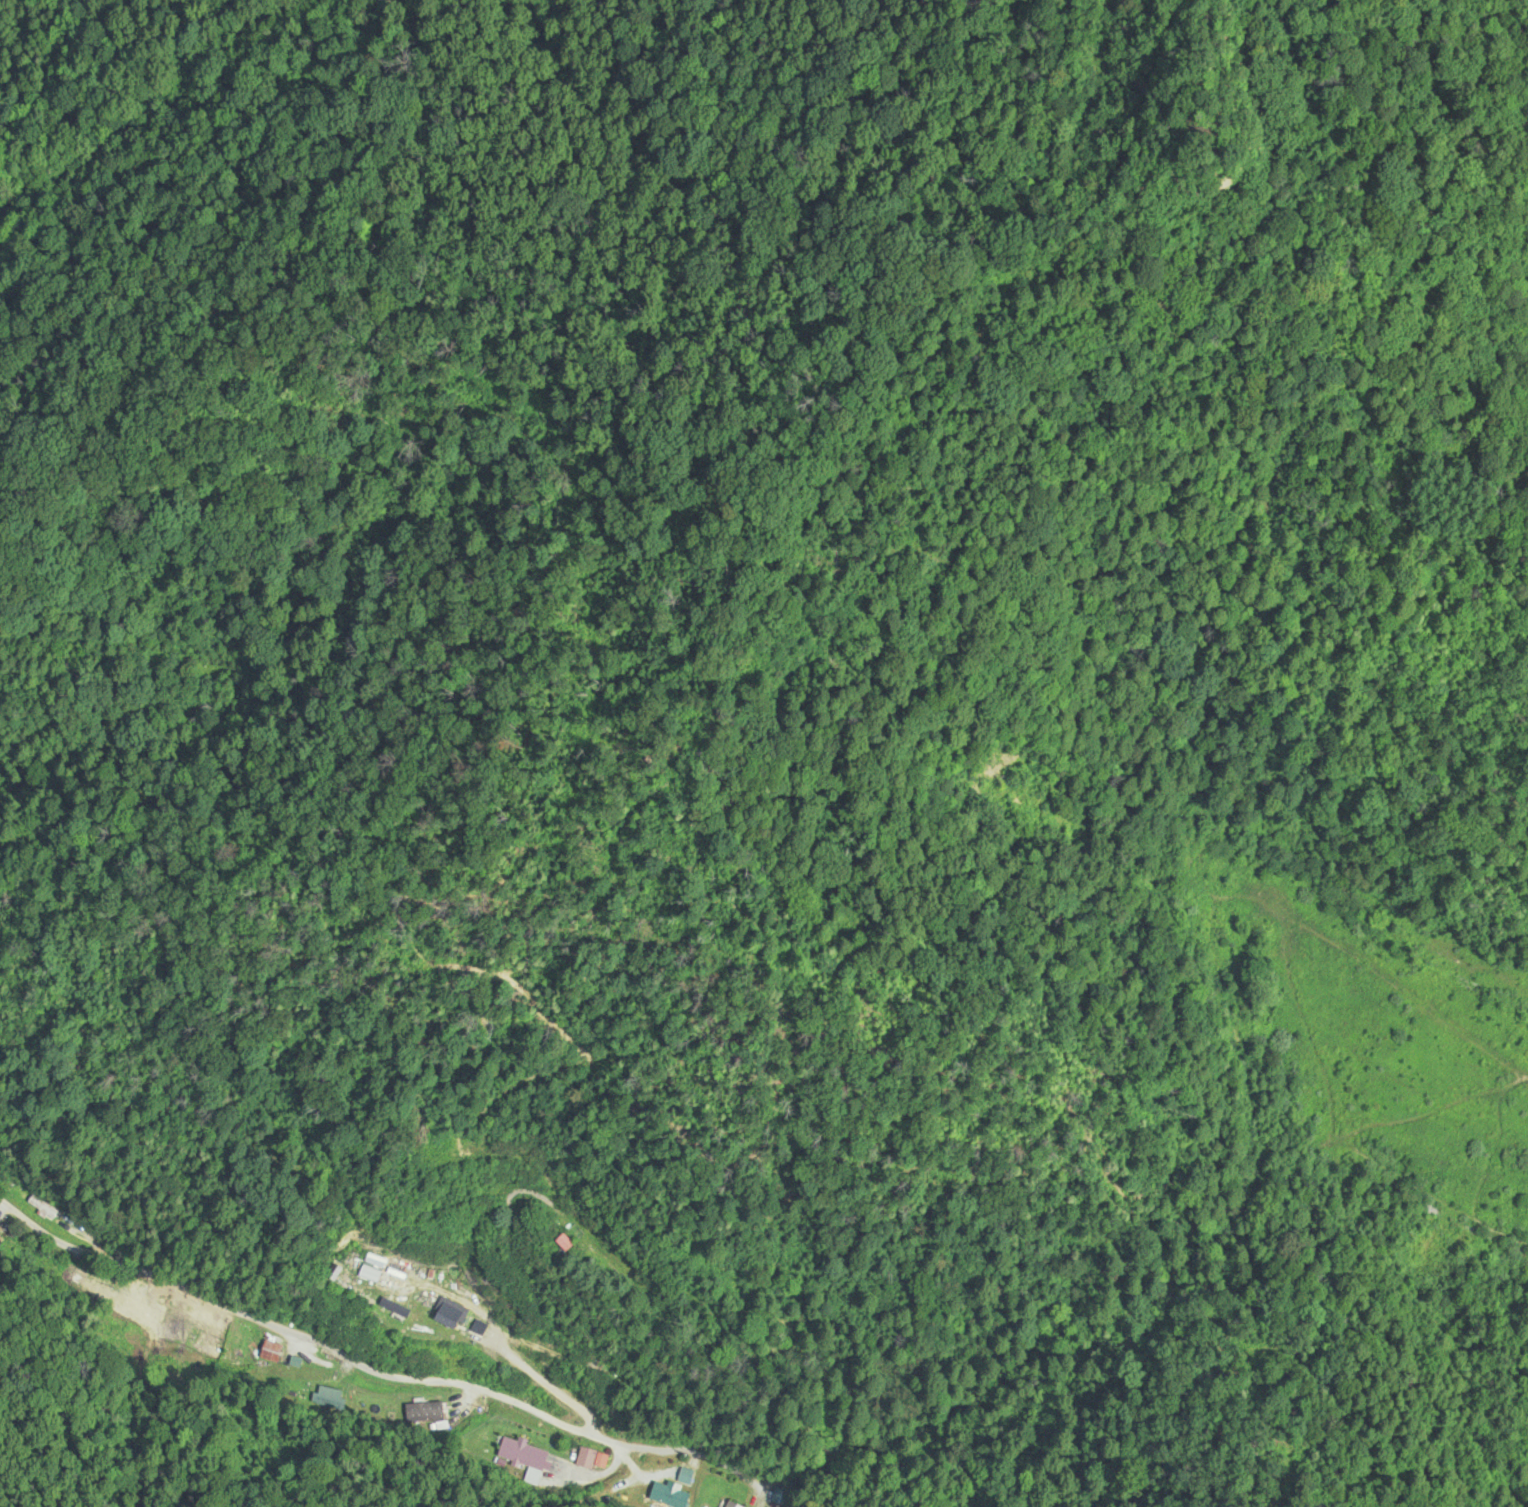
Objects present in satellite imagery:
building: (29, 1202)
building: (87, 1285)
building: (137, 1312)
building: (453, 1313)
building: (426, 1327)
building: (236, 1342)
building: (271, 1349)
road: (363, 1378)
building: (423, 1412)
building: (523, 1453)
building: (592, 1459)
building: (667, 1496)
building: (731, 1504)

